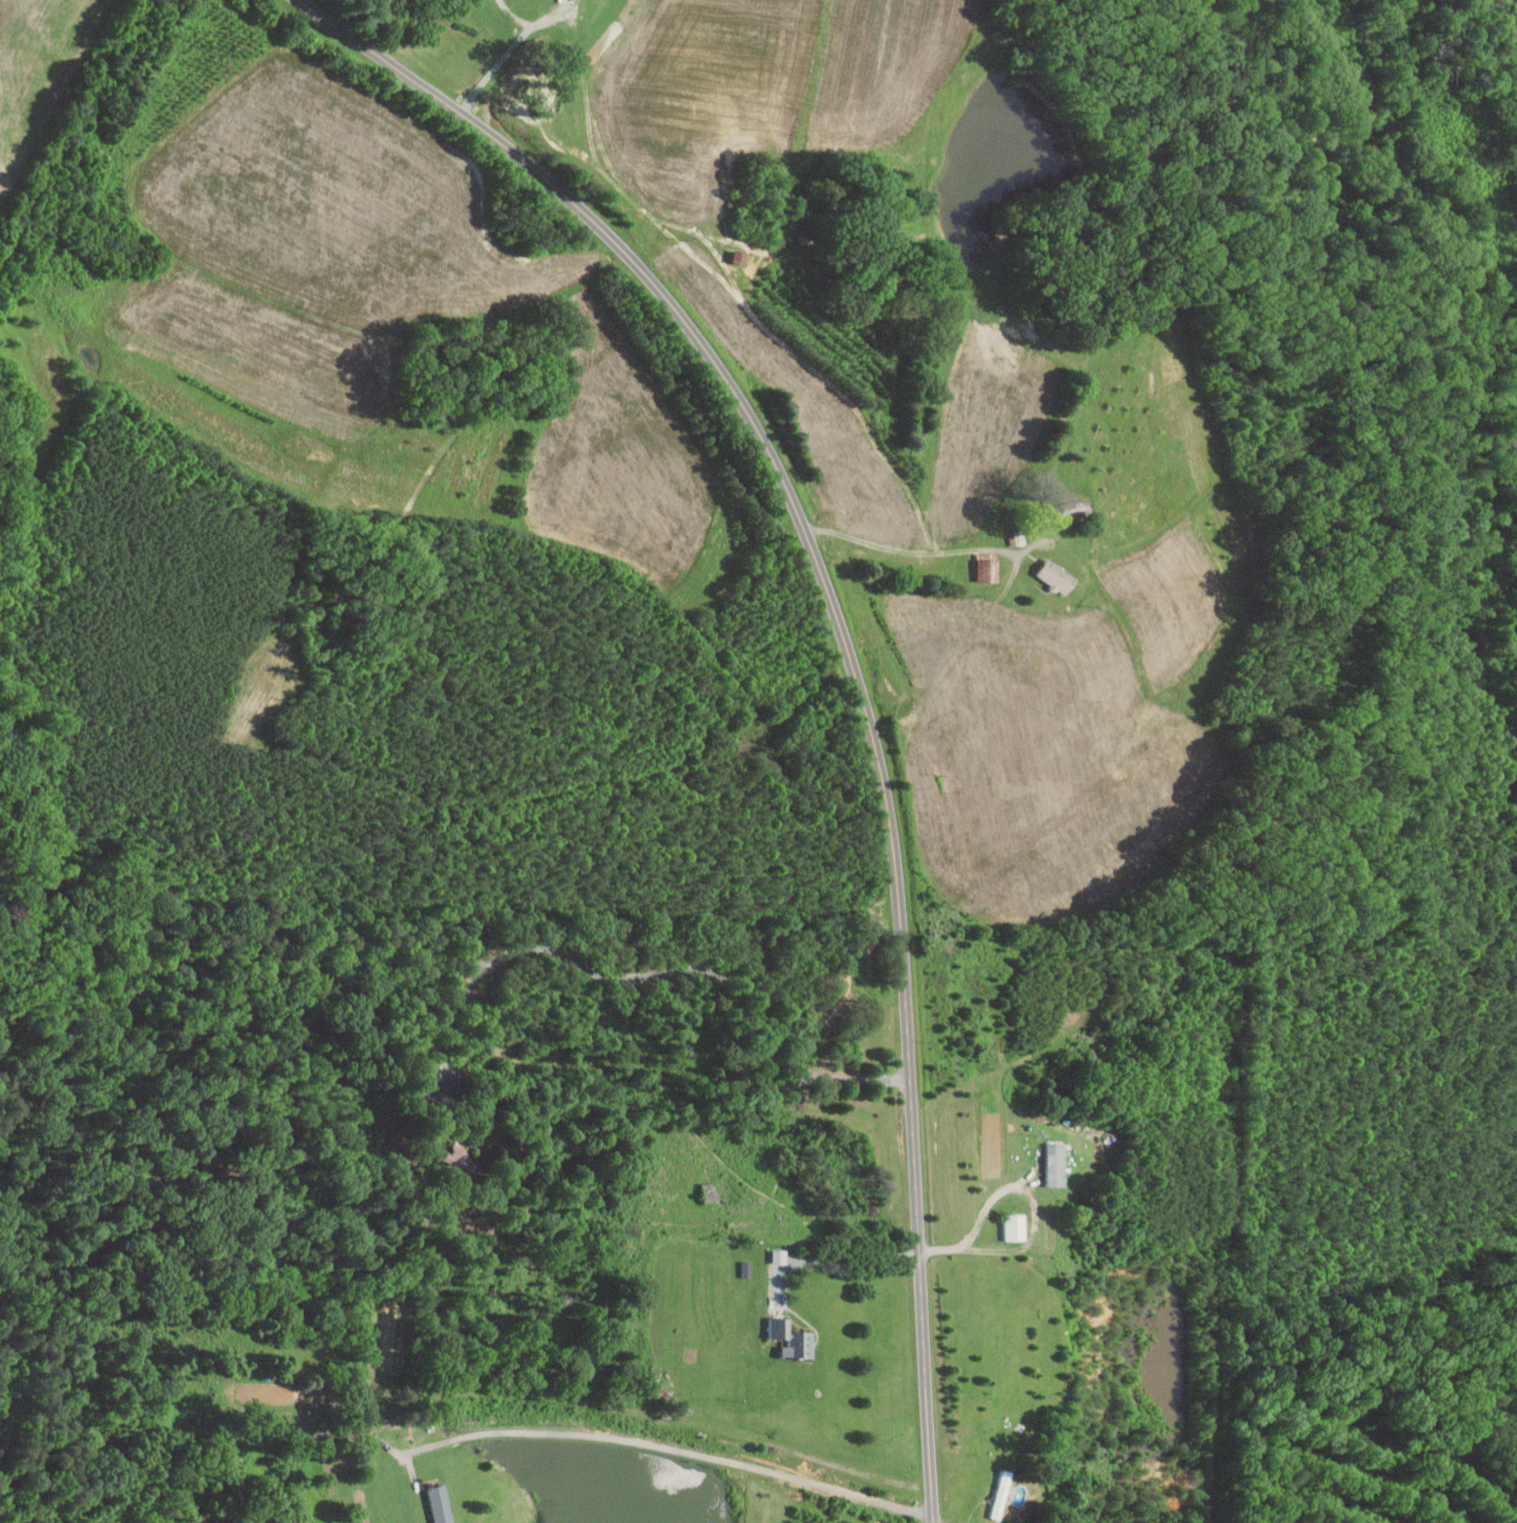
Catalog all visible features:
road: (503, 58)
road: (111, 231)
road: (909, 543)
building: (988, 569)
building: (1057, 576)
road: (850, 653)
road: (646, 974)
building: (1057, 1164)
road: (1028, 1186)
building: (1017, 1226)
building: (780, 1256)
road: (836, 1257)
building: (793, 1338)
road: (673, 1448)
building: (1002, 1494)
building: (441, 1504)

